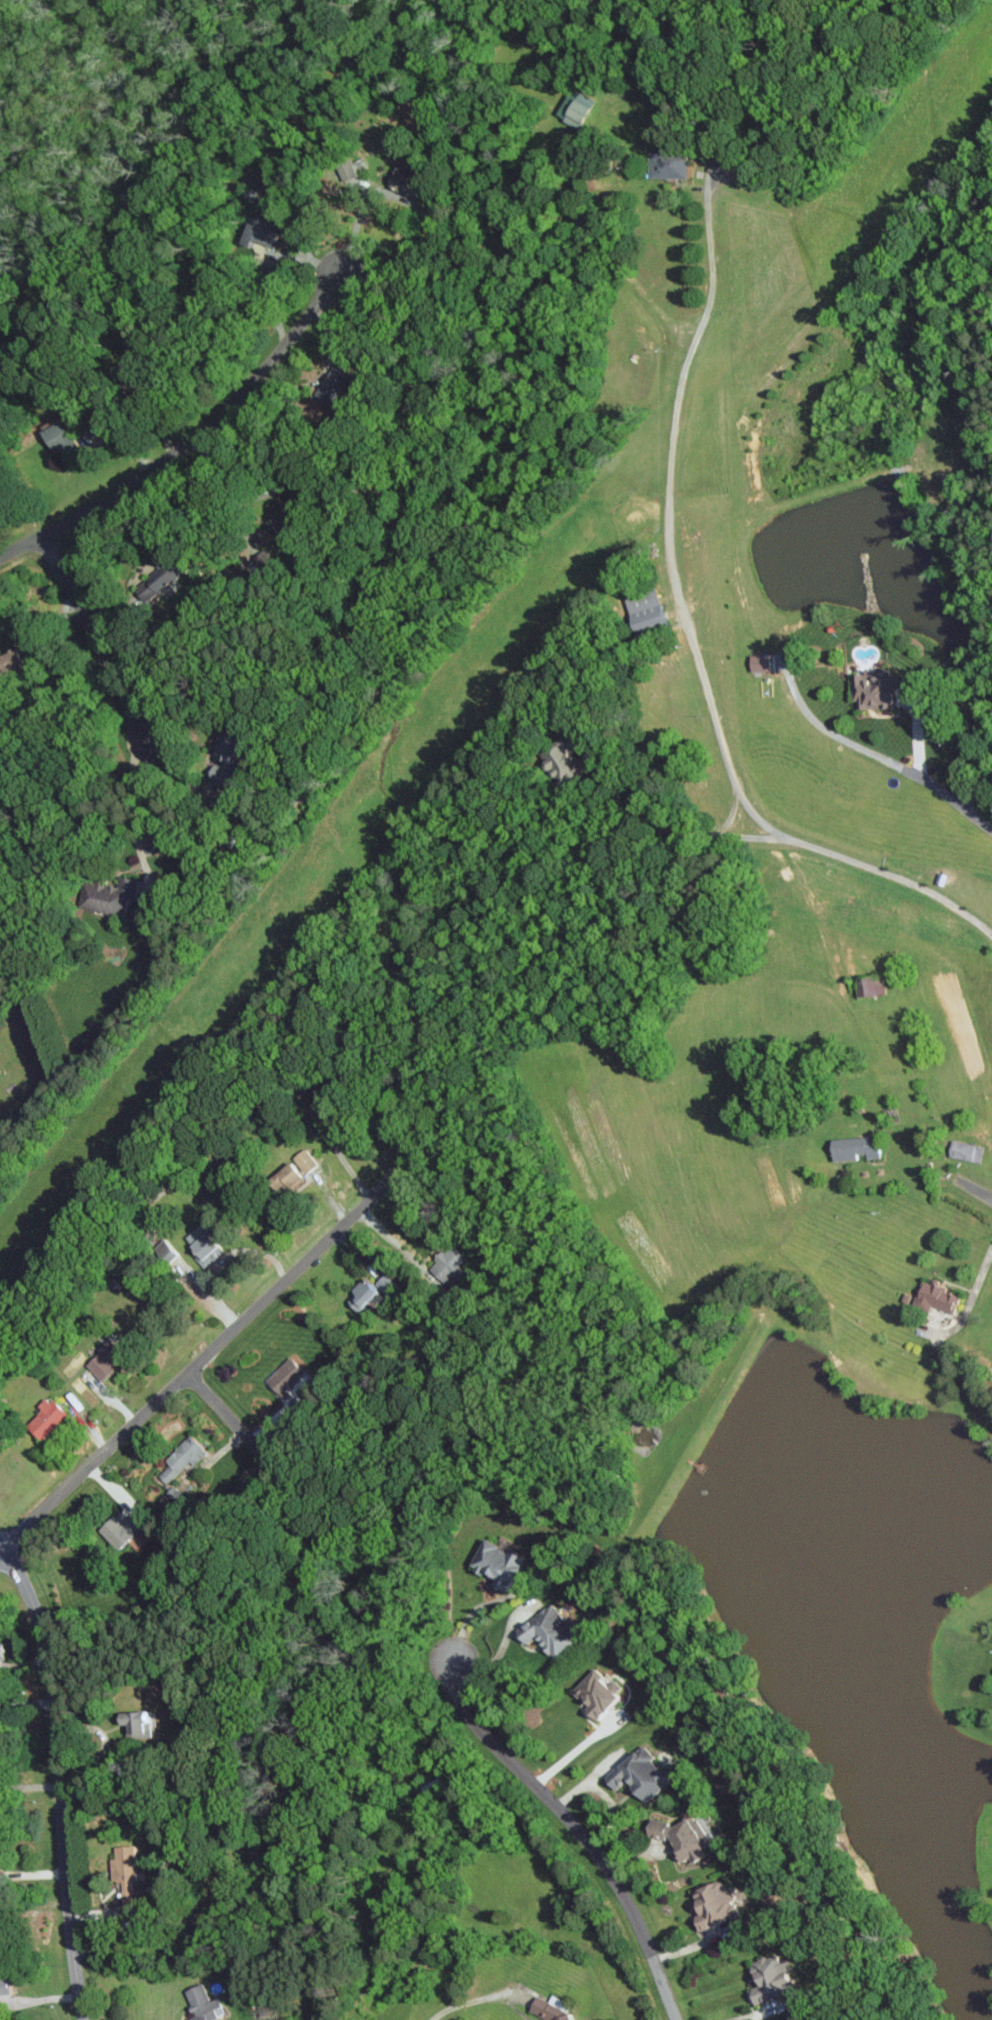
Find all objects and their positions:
building: (576, 110)
building: (666, 167)
building: (349, 168)
building: (260, 176)
building: (402, 182)
road: (429, 210)
building: (259, 233)
road: (323, 372)
building: (57, 438)
road: (191, 438)
road: (272, 483)
building: (279, 519)
road: (667, 519)
building: (152, 580)
building: (643, 609)
road: (94, 637)
building: (13, 658)
building: (758, 661)
building: (872, 689)
building: (222, 758)
building: (563, 762)
road: (957, 801)
road: (130, 810)
road: (656, 812)
road: (729, 815)
road: (746, 836)
road: (892, 873)
building: (108, 895)
building: (866, 984)
building: (850, 1147)
building: (964, 1150)
road: (341, 1156)
building: (290, 1171)
road: (989, 1197)
building: (200, 1244)
building: (449, 1260)
road: (979, 1276)
building: (359, 1294)
building: (933, 1297)
road: (206, 1355)
building: (104, 1359)
building: (284, 1377)
building: (43, 1419)
road: (234, 1424)
building: (181, 1458)
building: (116, 1530)
road: (1, 1550)
building: (494, 1563)
road: (473, 1612)
building: (548, 1632)
road: (500, 1652)
building: (1, 1653)
building: (594, 1693)
building: (135, 1724)
road: (572, 1752)
building: (634, 1776)
road: (59, 1778)
road: (575, 1830)
building: (678, 1836)
building: (122, 1871)
building: (709, 1905)
building: (767, 1977)
building: (4, 1987)
road: (464, 2001)
building: (201, 2004)
building: (546, 2009)
road: (753, 2013)

